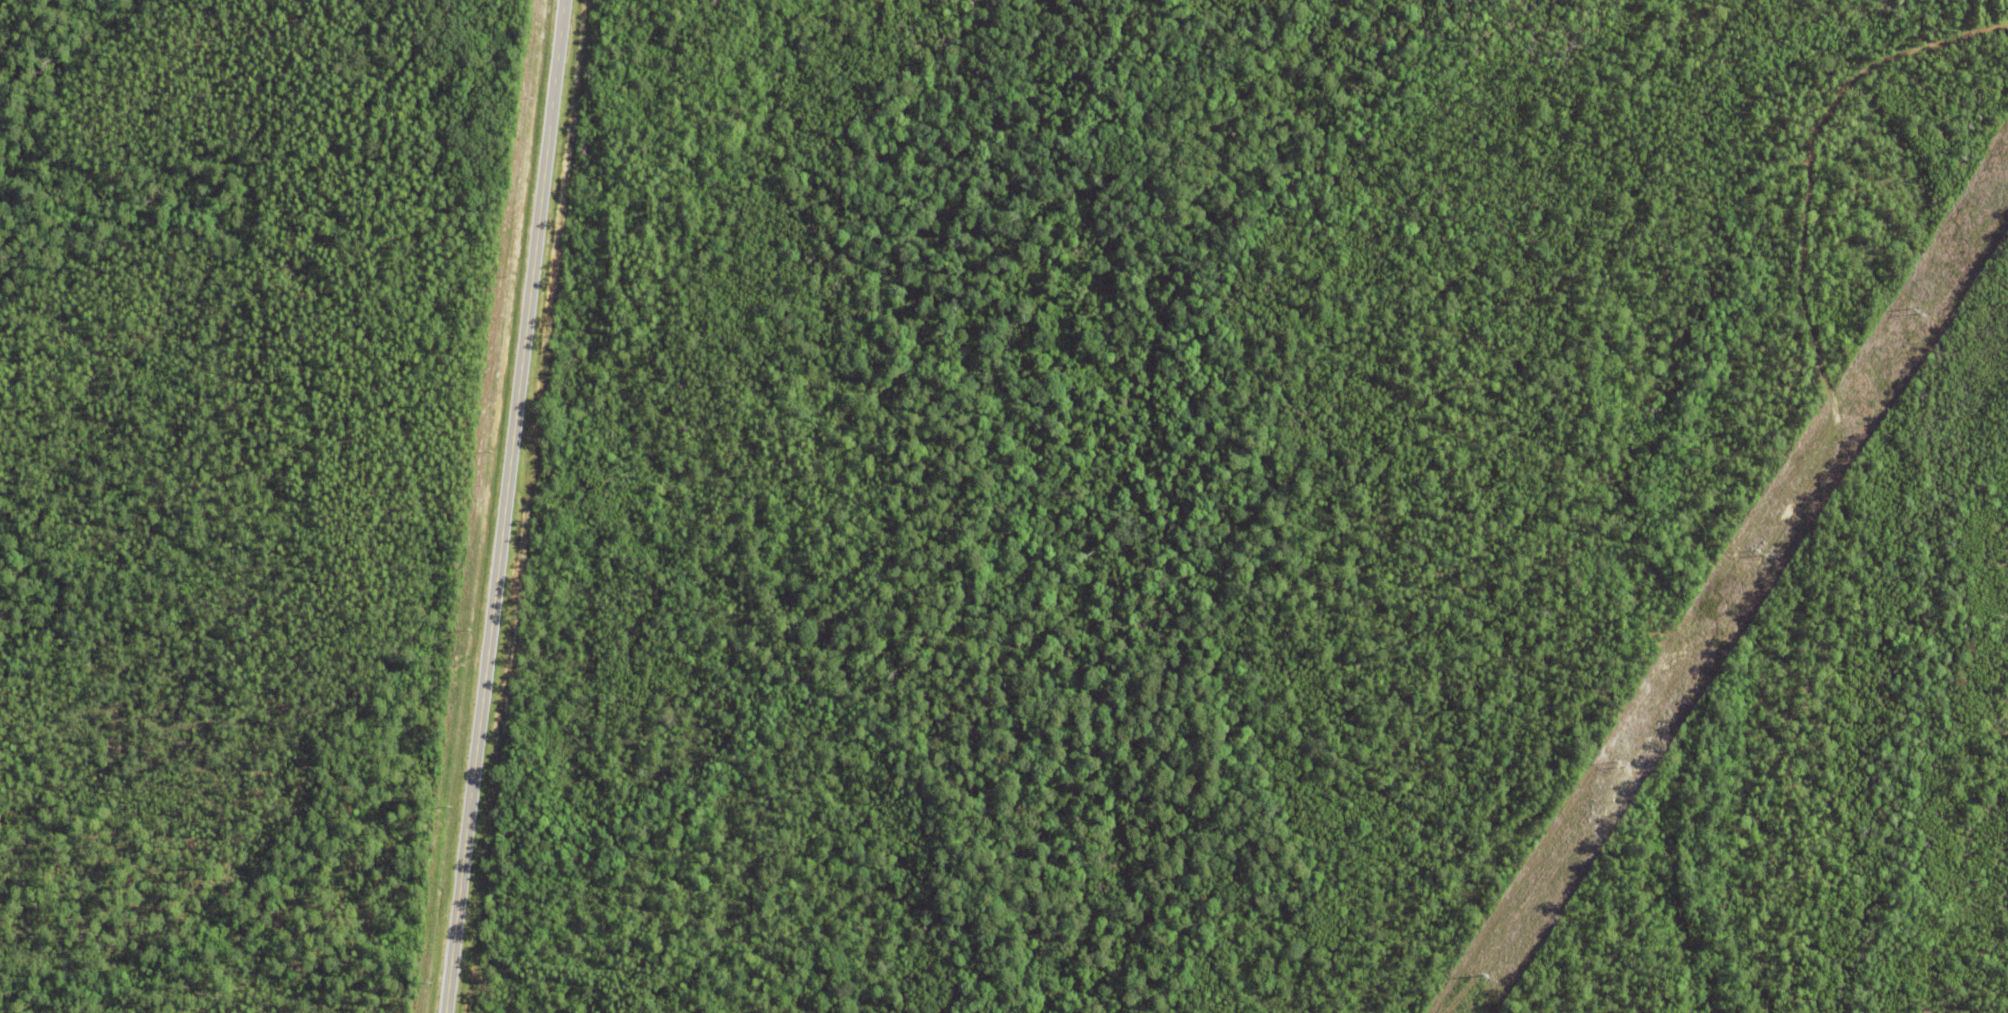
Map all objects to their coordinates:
road: (505, 506)

